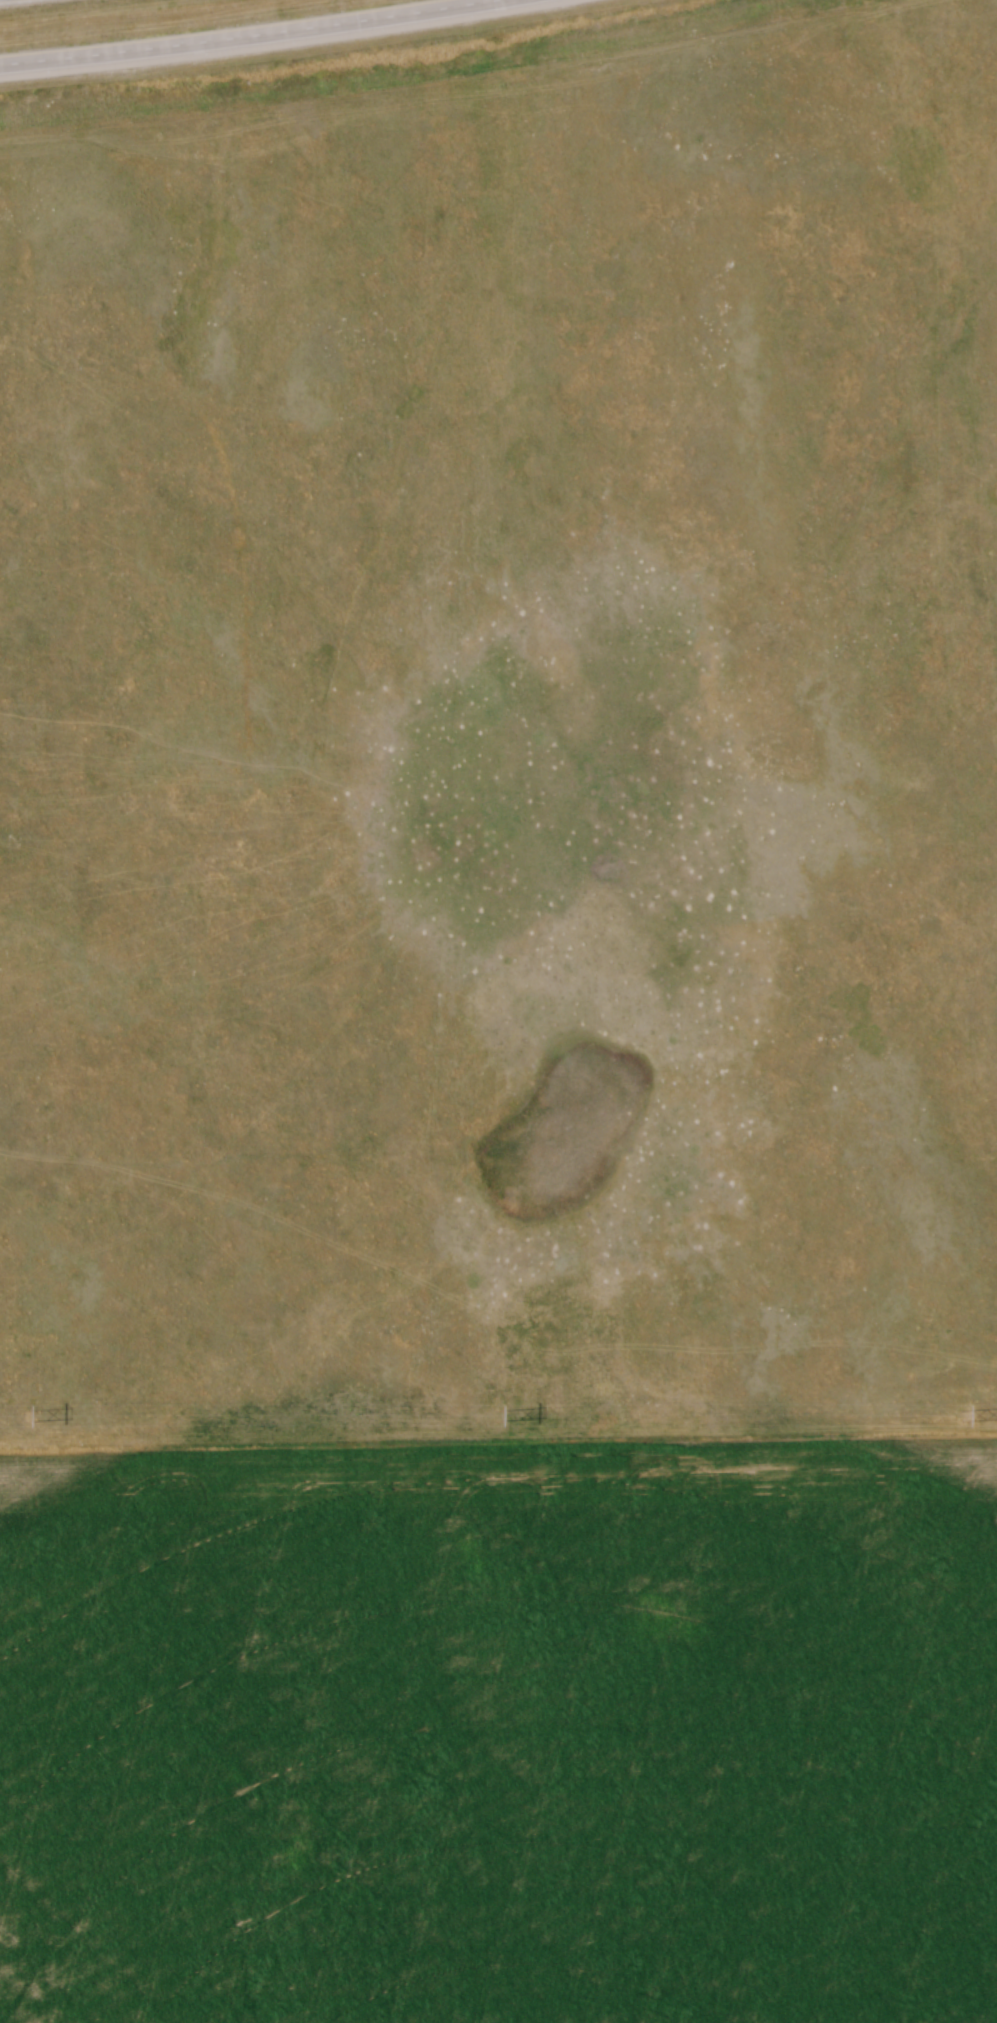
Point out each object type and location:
road: (254, 38)
power tower: (961, 1417)
power tower: (22, 1419)
power tower: (495, 1421)

